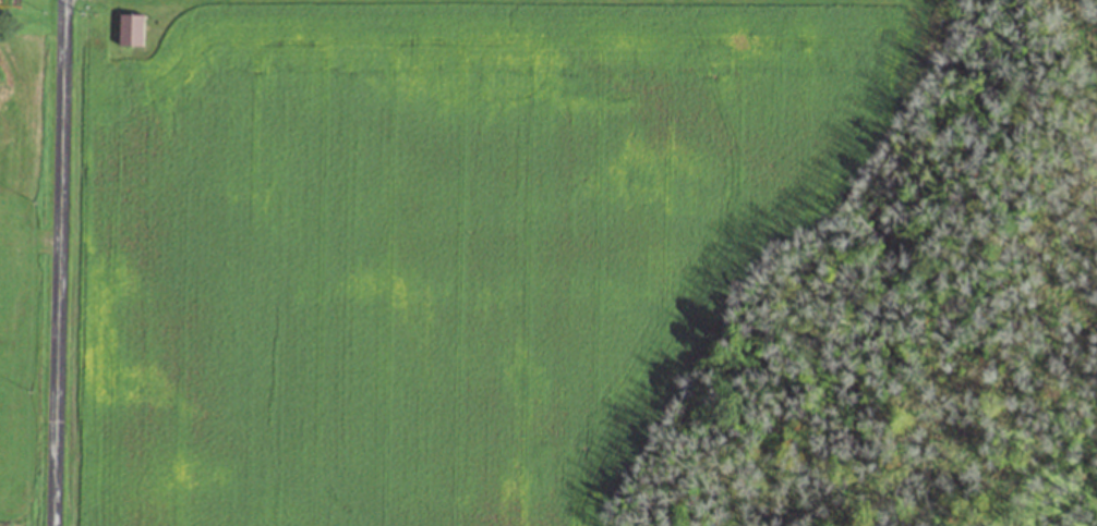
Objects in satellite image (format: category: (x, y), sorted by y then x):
building: (130, 28)
road: (58, 262)

